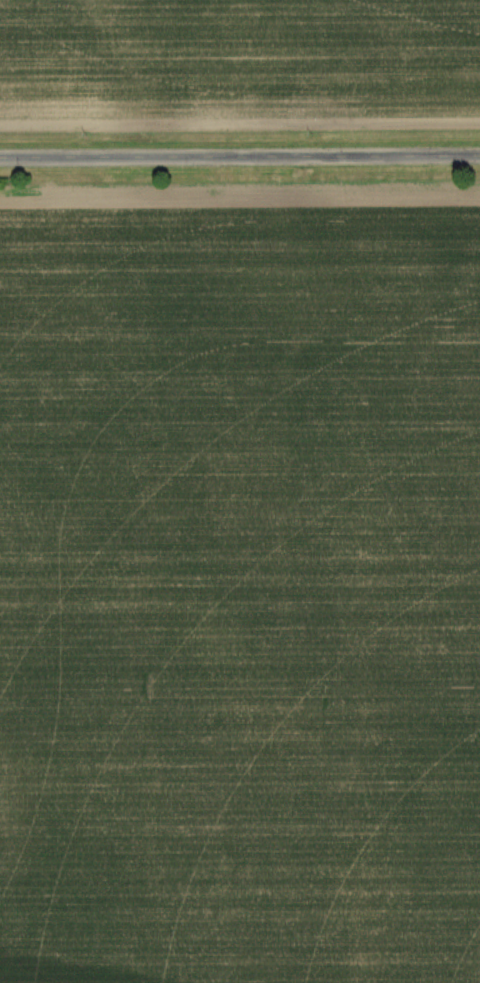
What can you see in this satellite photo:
crop: (240, 62)
road: (240, 157)
crop: (240, 586)

